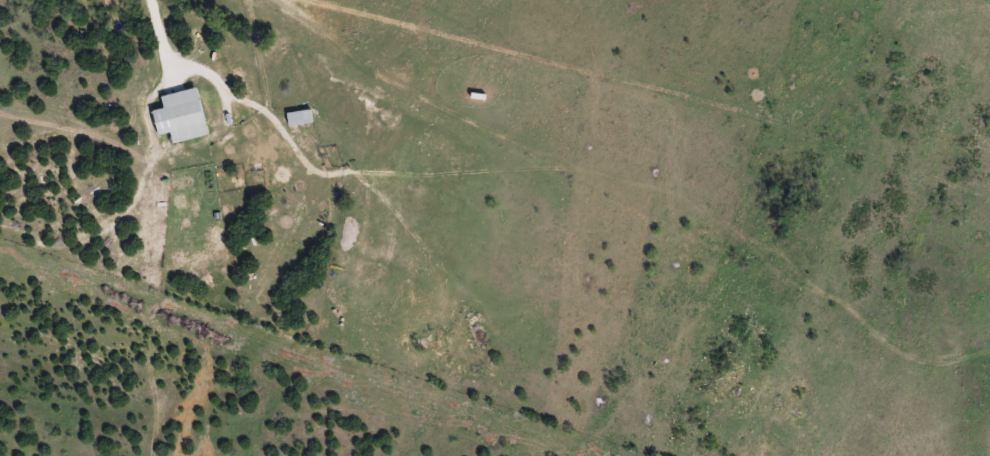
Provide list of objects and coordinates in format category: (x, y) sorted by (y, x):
building: (185, 115)
building: (304, 116)

